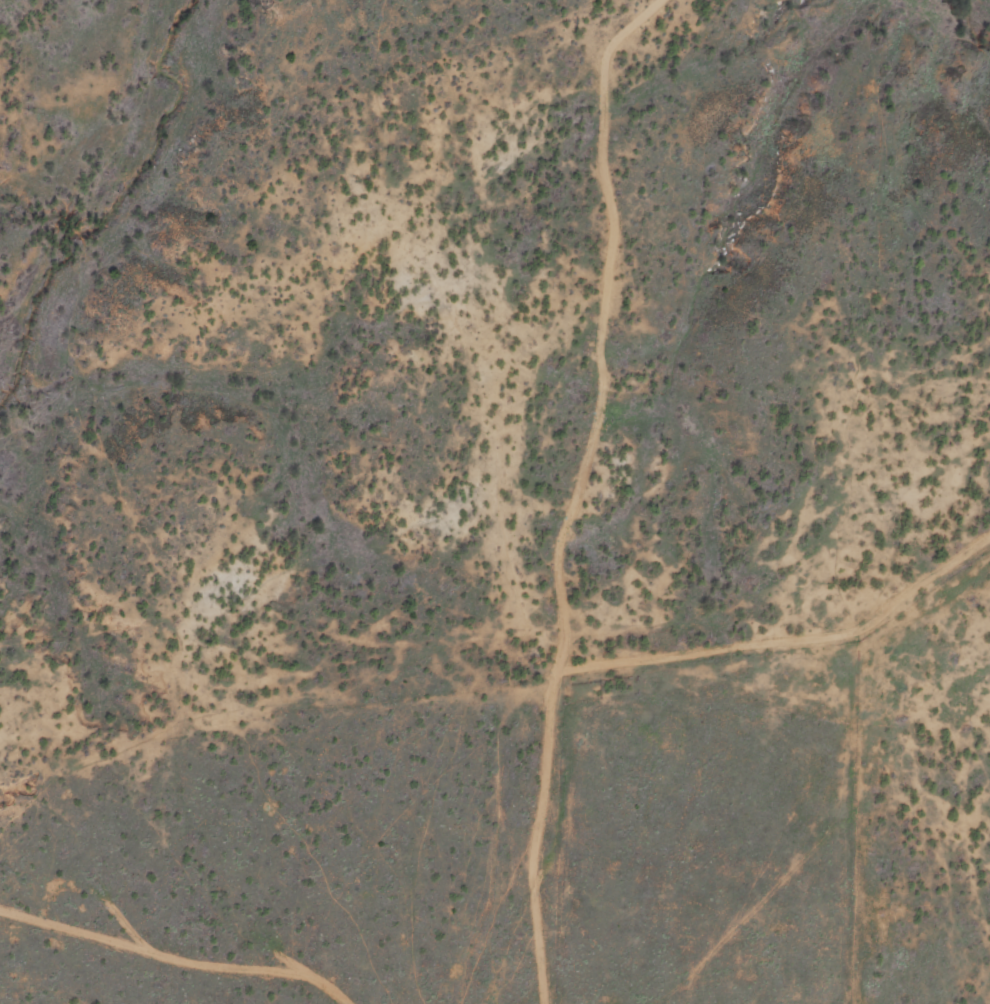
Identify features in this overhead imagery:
road: (507, 618)

